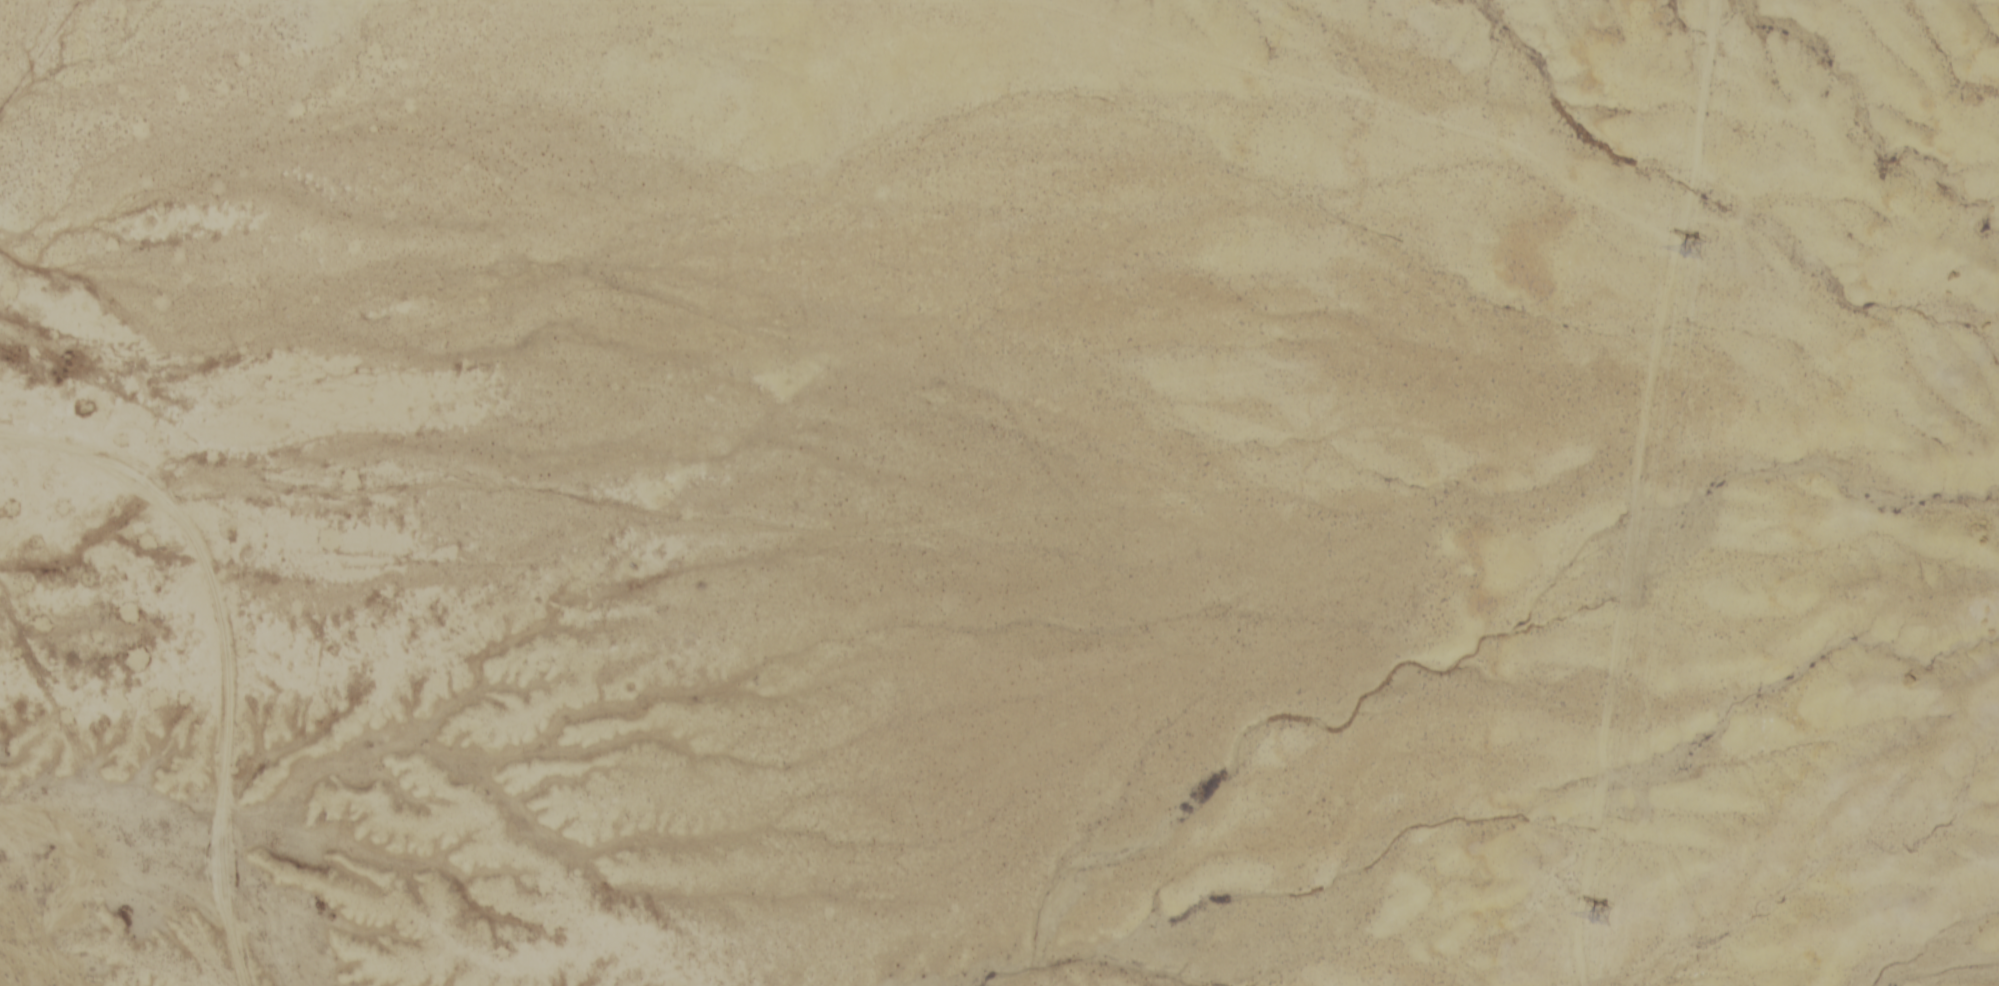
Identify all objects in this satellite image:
power tower: (1700, 251)
road: (470, 581)
road: (227, 635)
power tower: (1596, 917)

